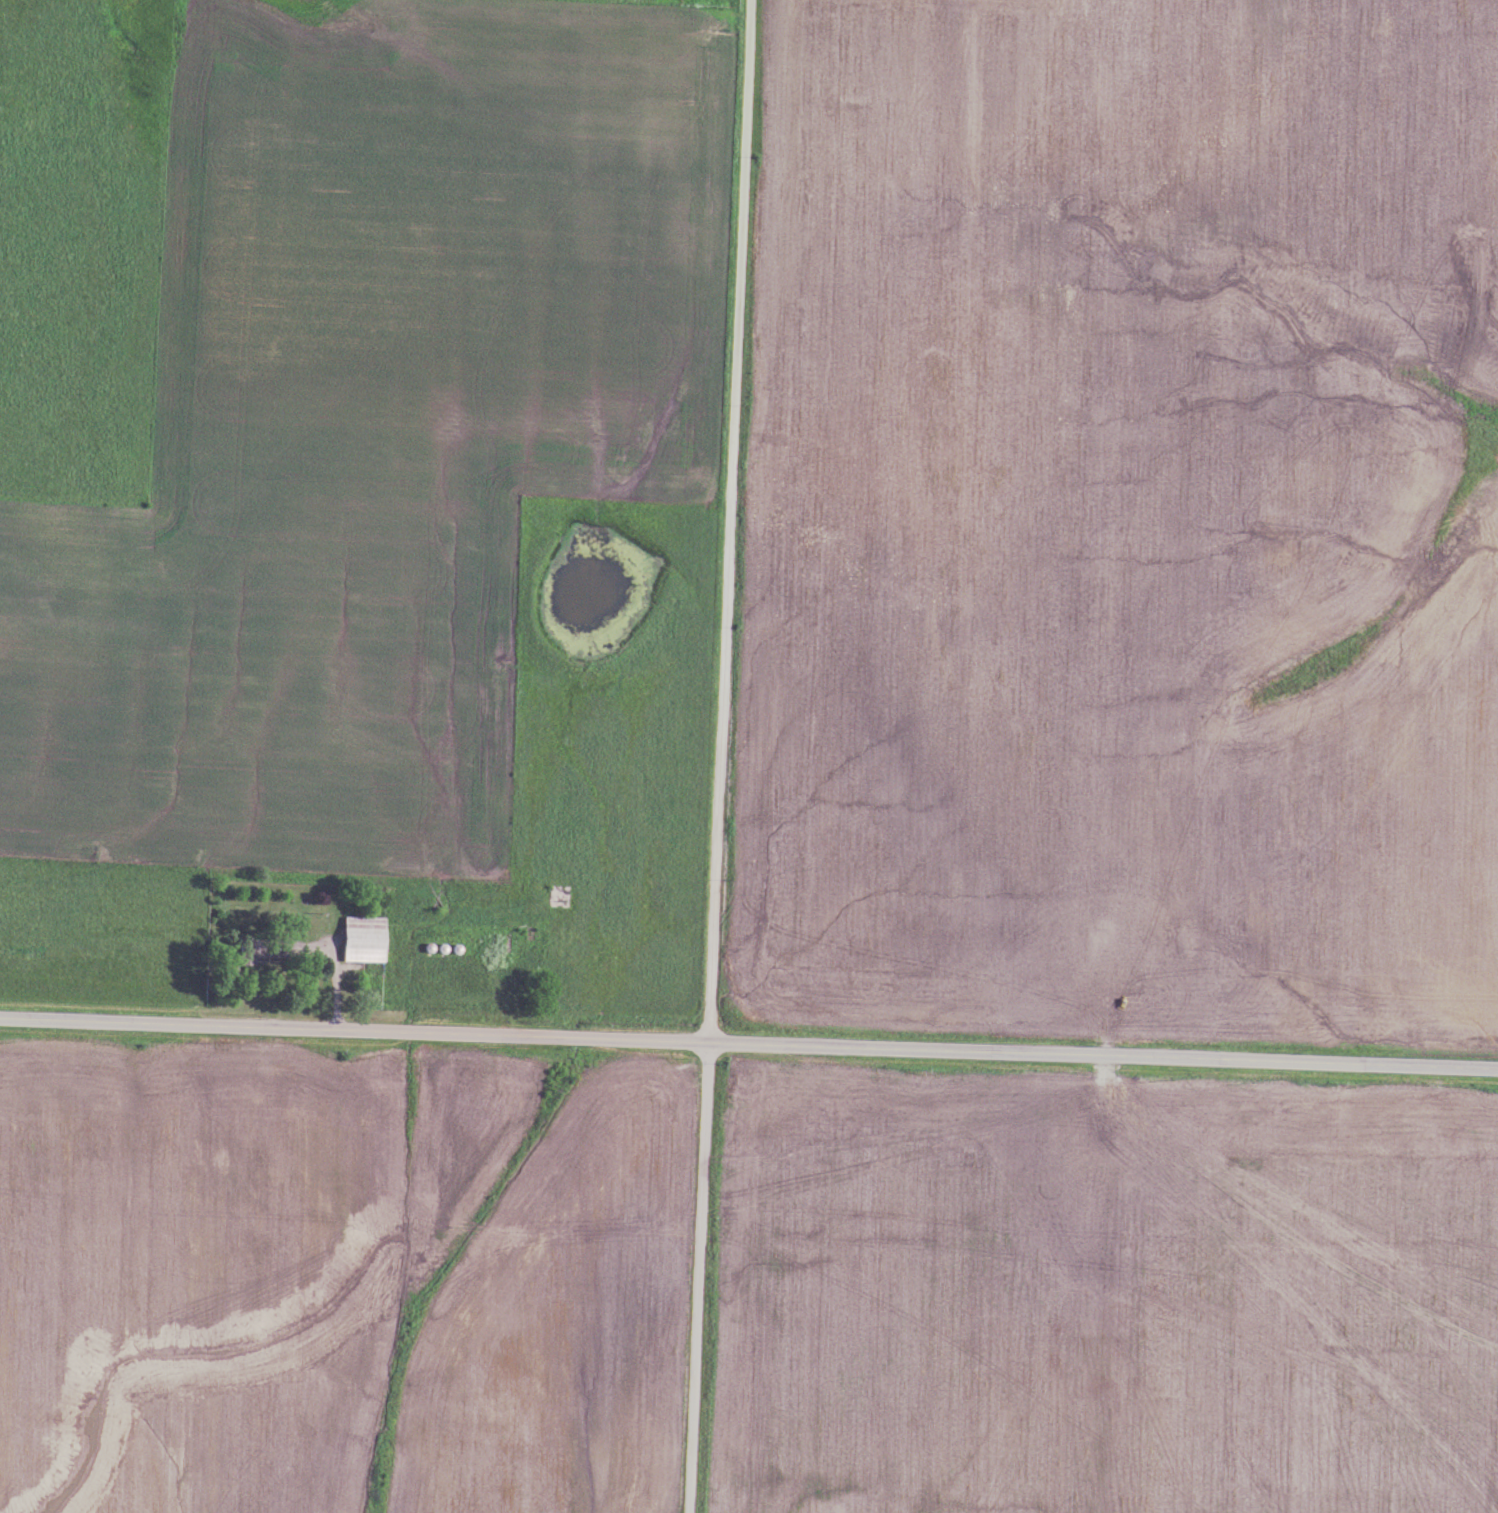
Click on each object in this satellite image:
road: (724, 756)
building: (530, 935)
building: (365, 939)
road: (749, 1042)

